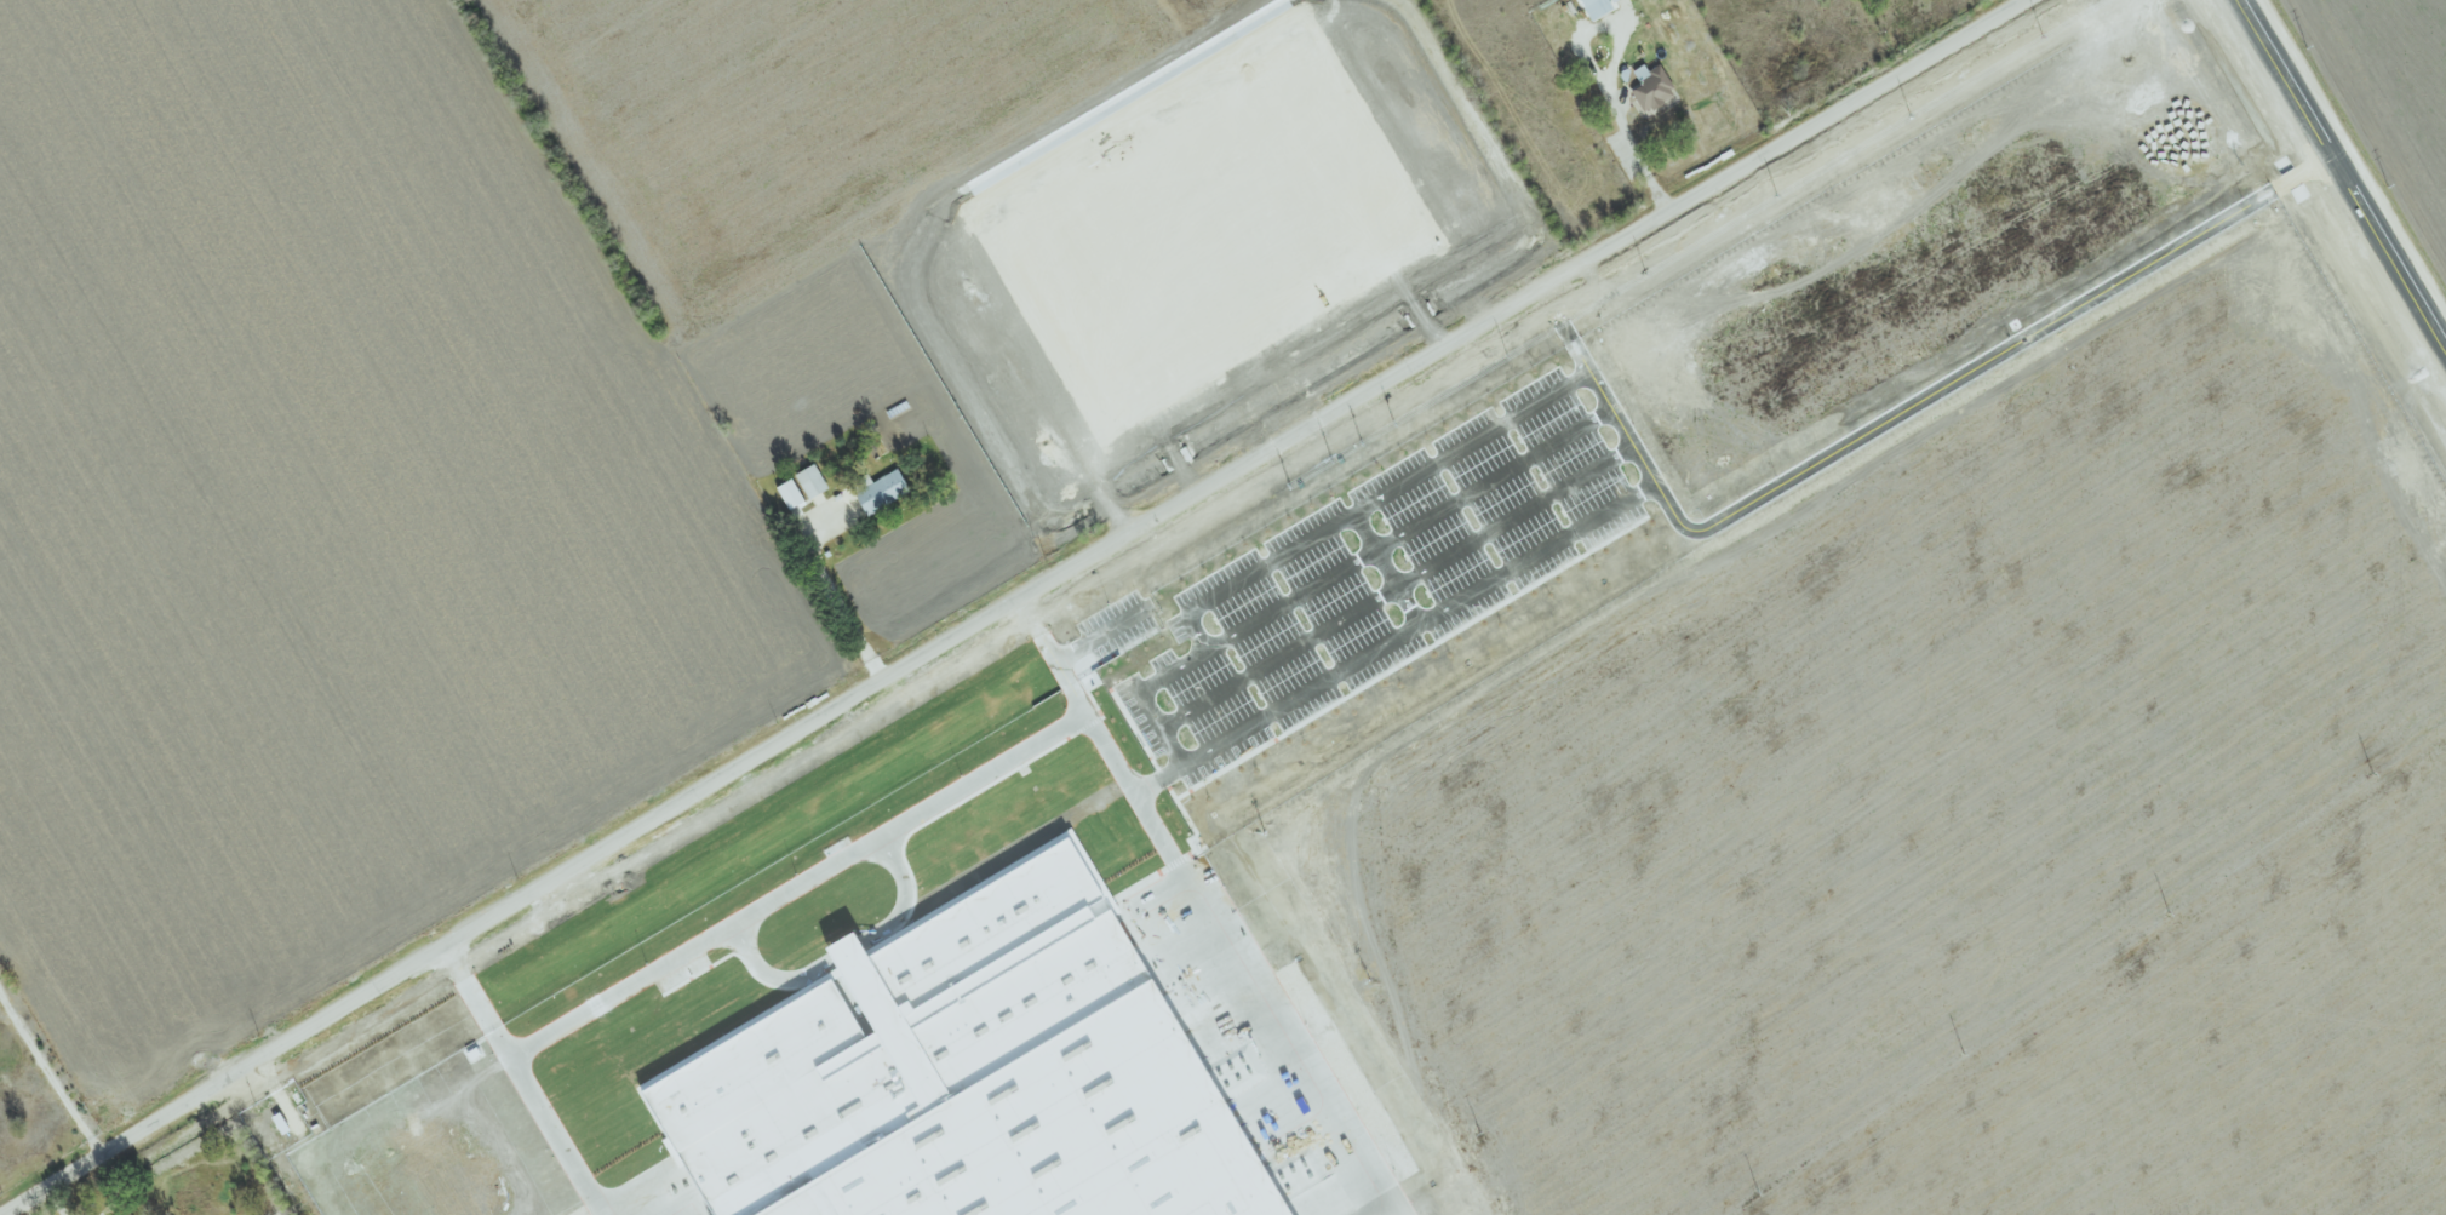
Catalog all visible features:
building: (1609, 1)
building: (1592, 8)
road: (1598, 81)
building: (1649, 87)
road: (2353, 161)
road: (1659, 462)
building: (814, 482)
building: (884, 491)
building: (795, 494)
road: (840, 597)
road: (1014, 604)
road: (48, 1072)
road: (113, 1184)
road: (53, 1202)

